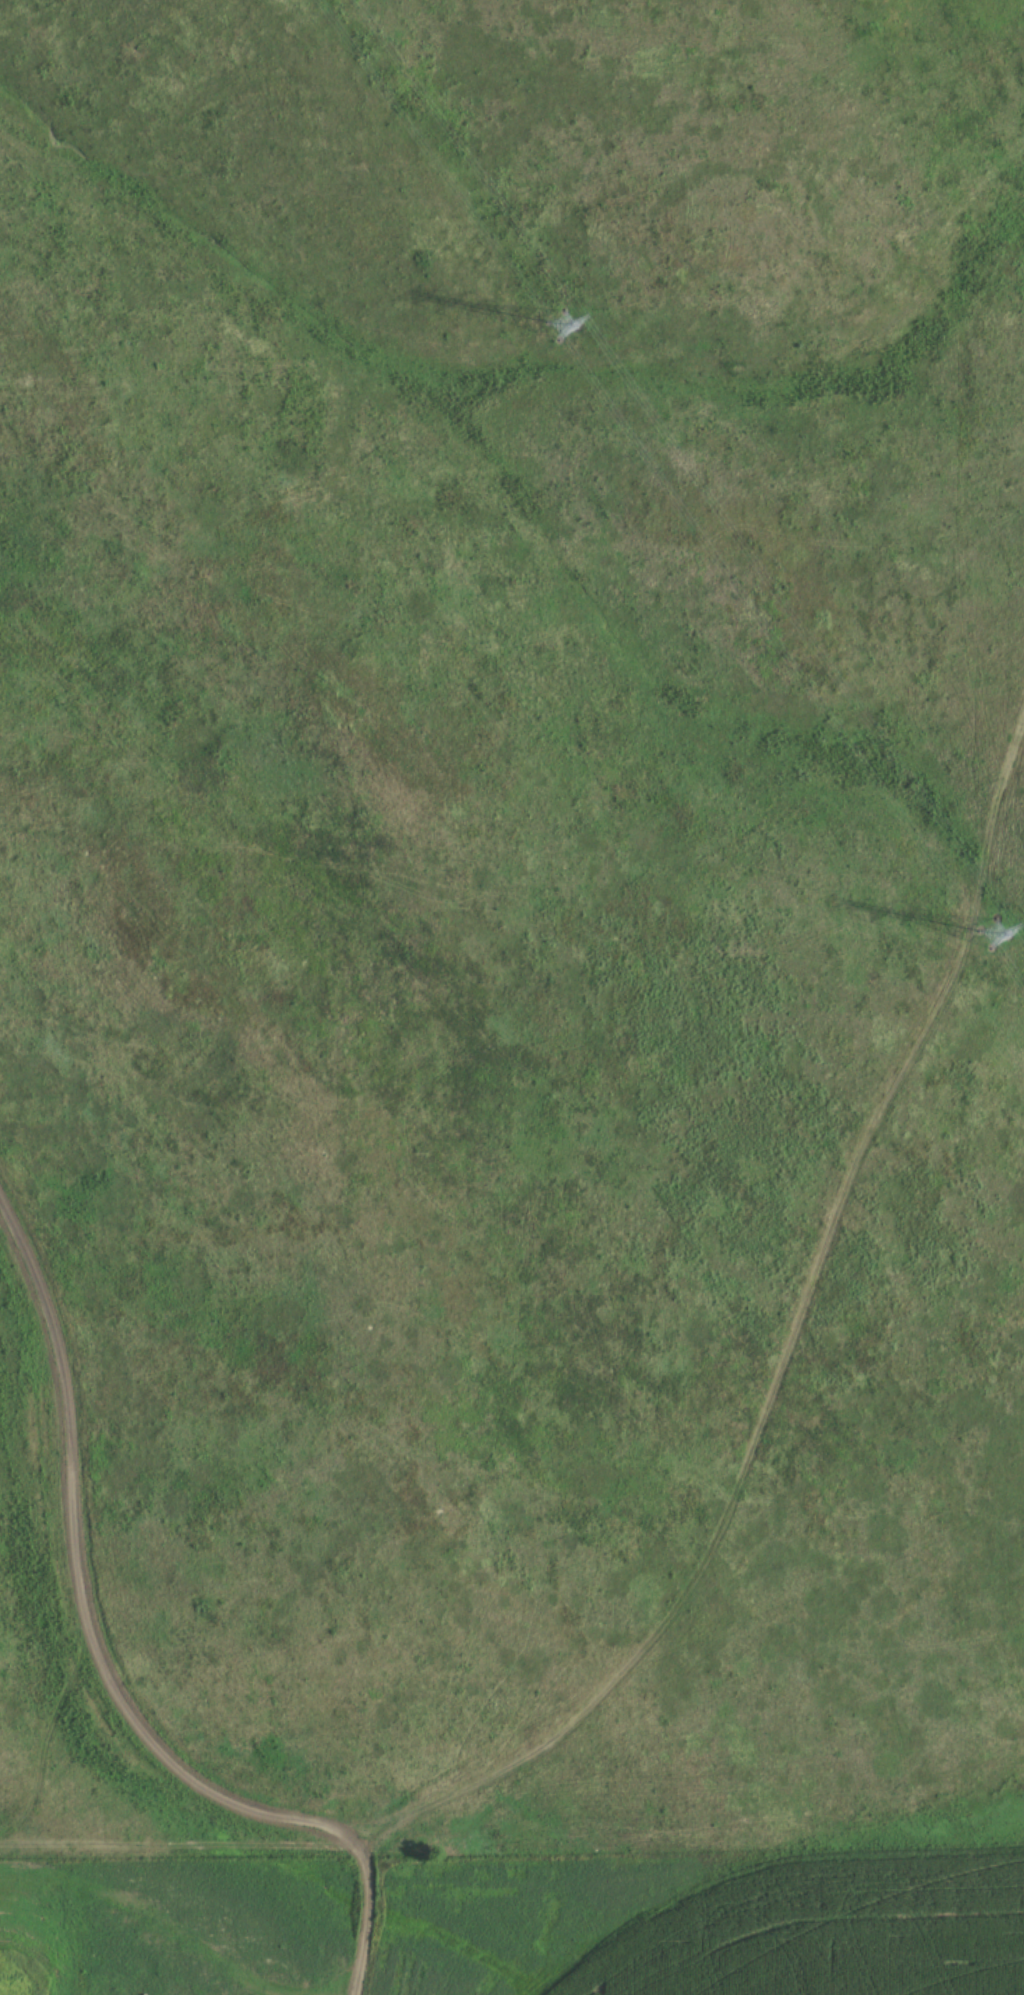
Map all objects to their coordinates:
power tower: (556, 326)
power tower: (988, 934)

